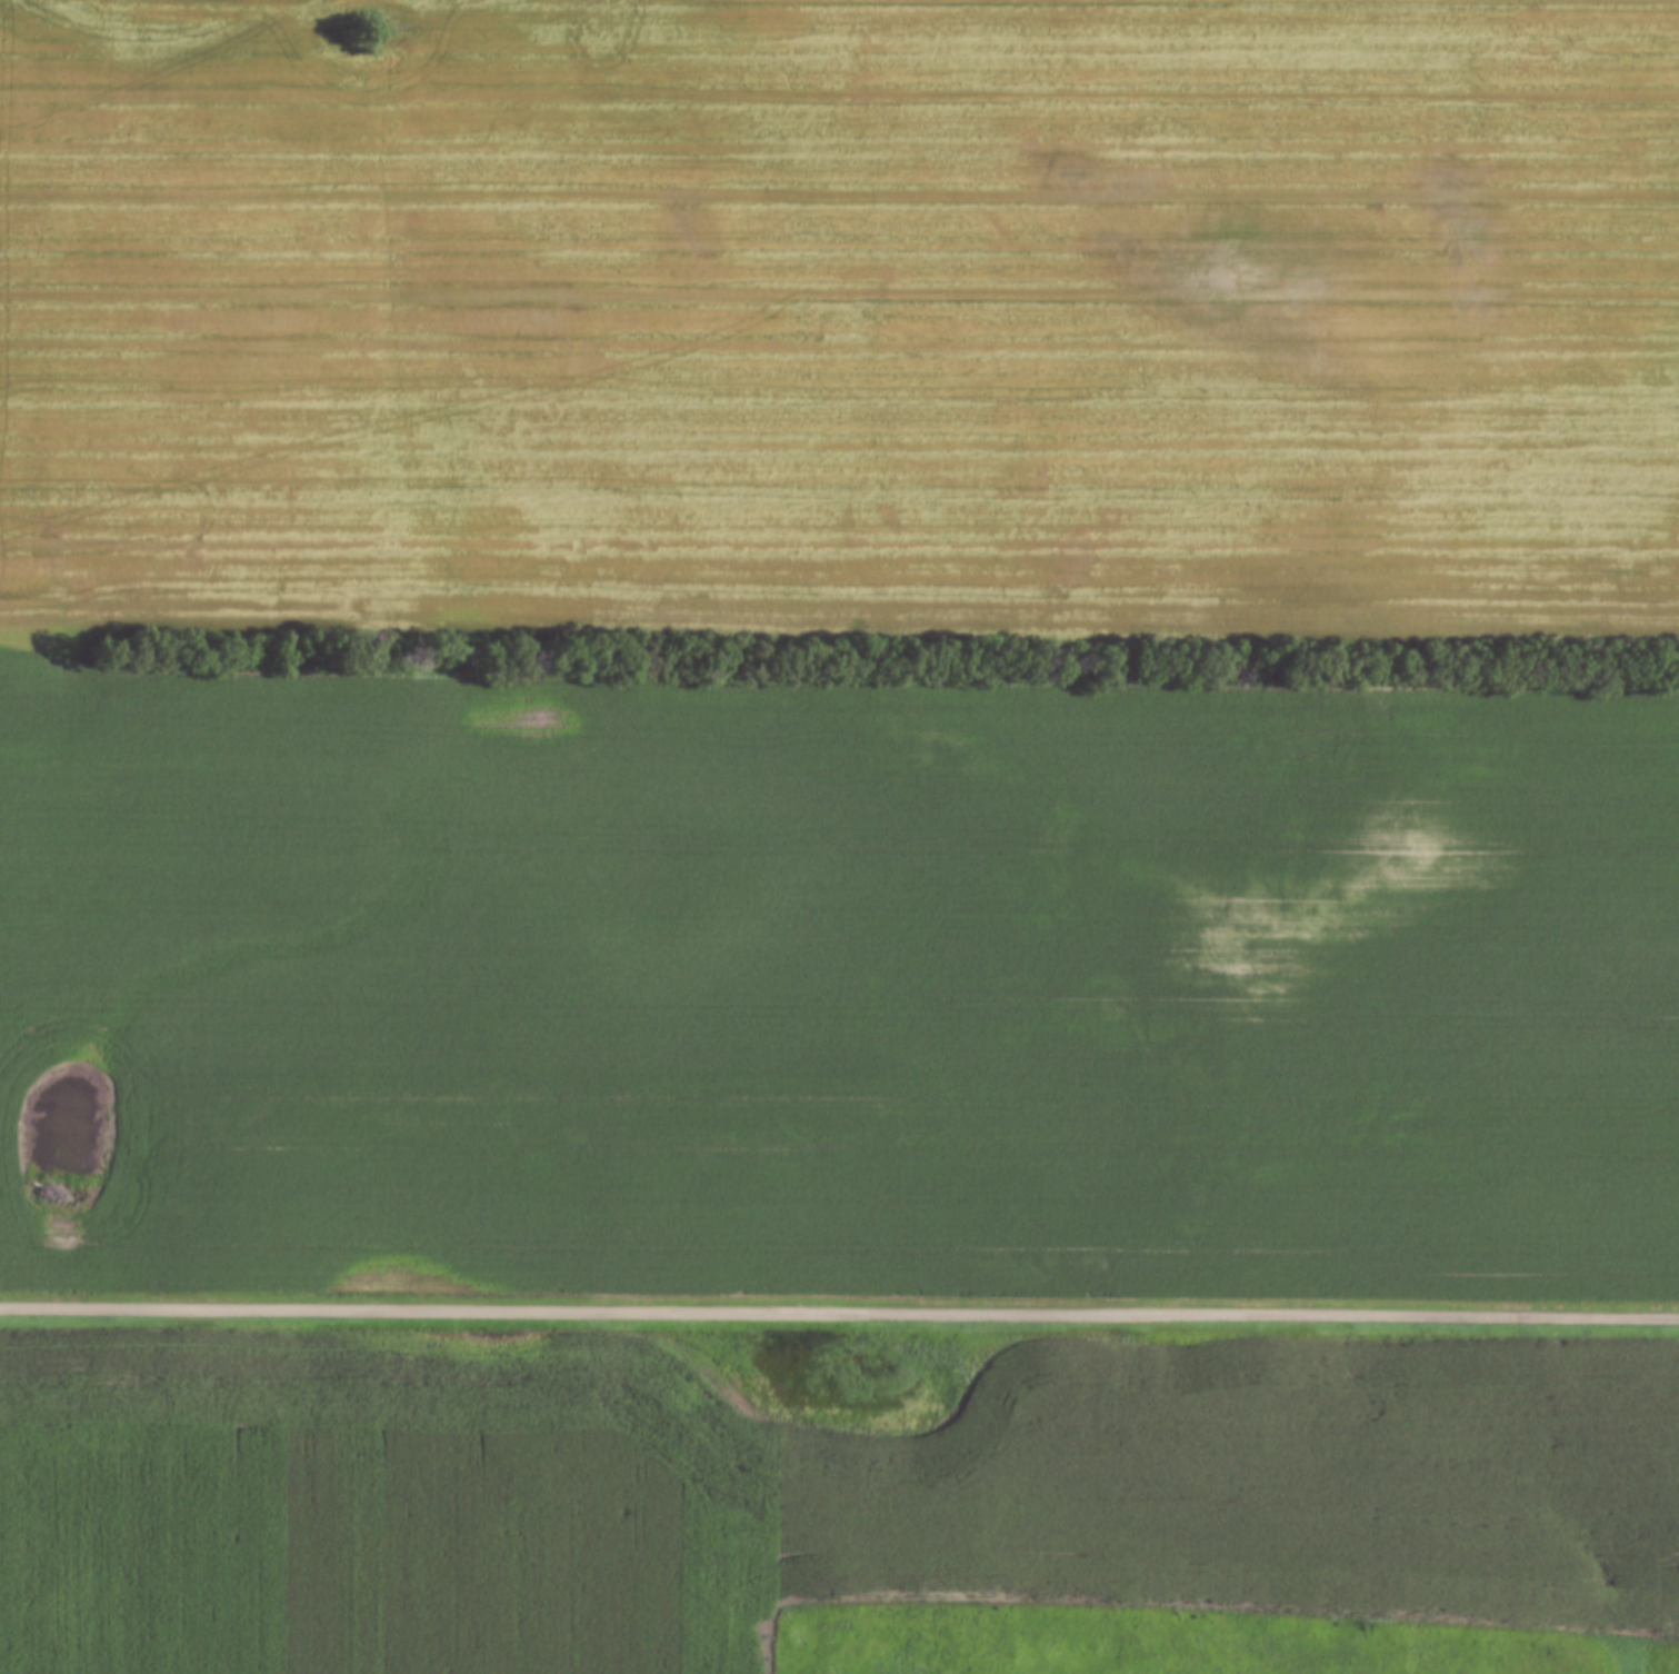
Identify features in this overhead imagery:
road: (839, 1317)

